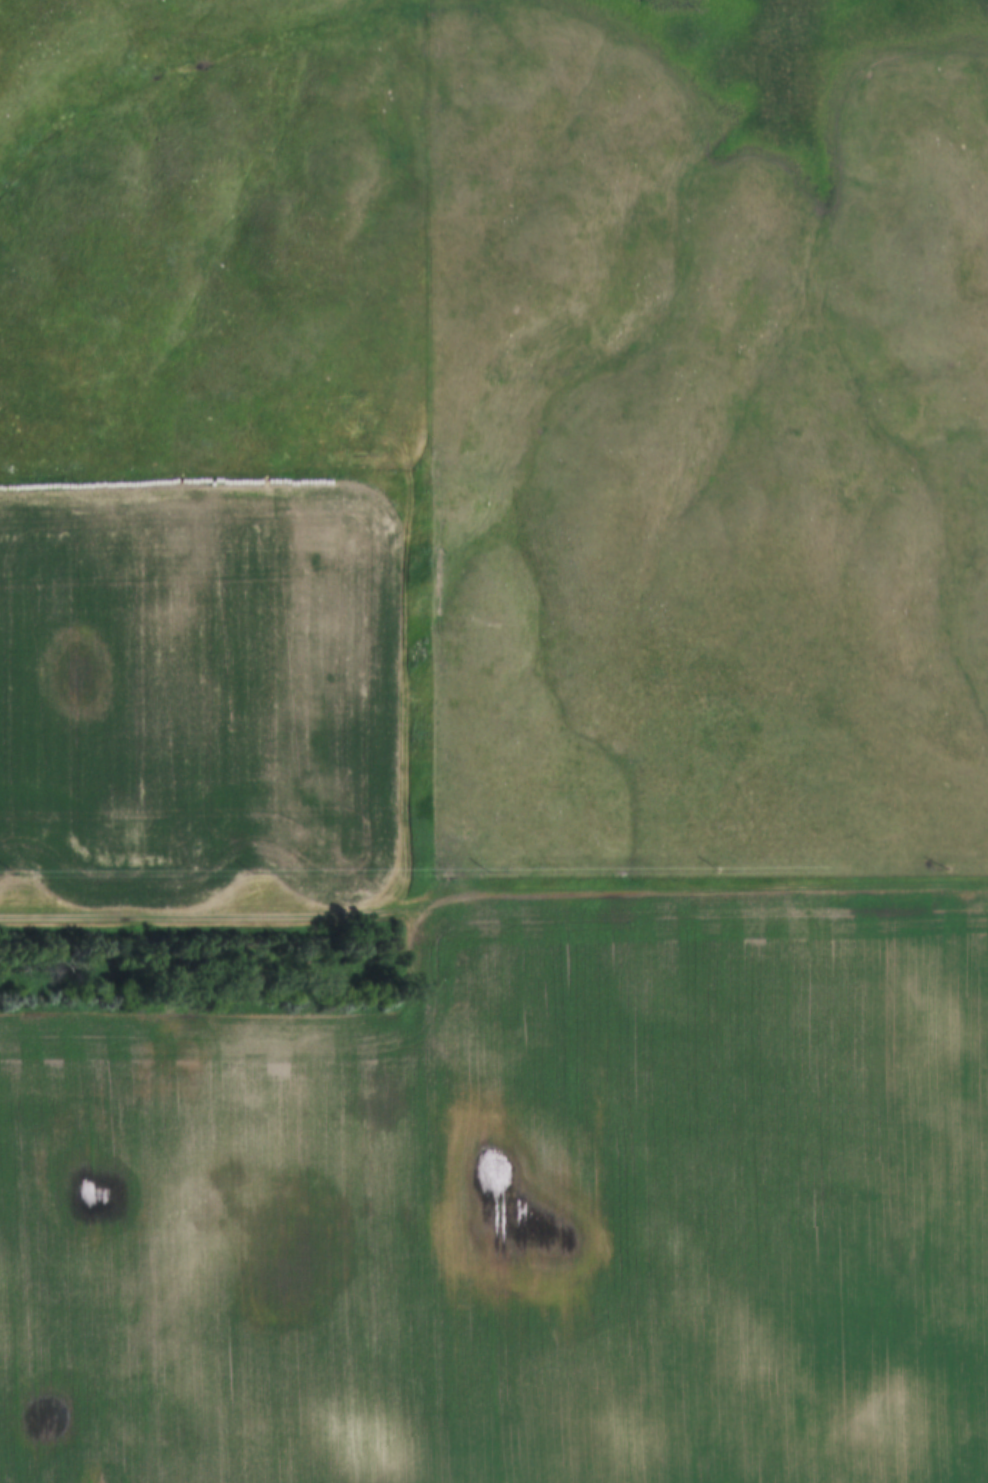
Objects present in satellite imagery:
road: (493, 906)

